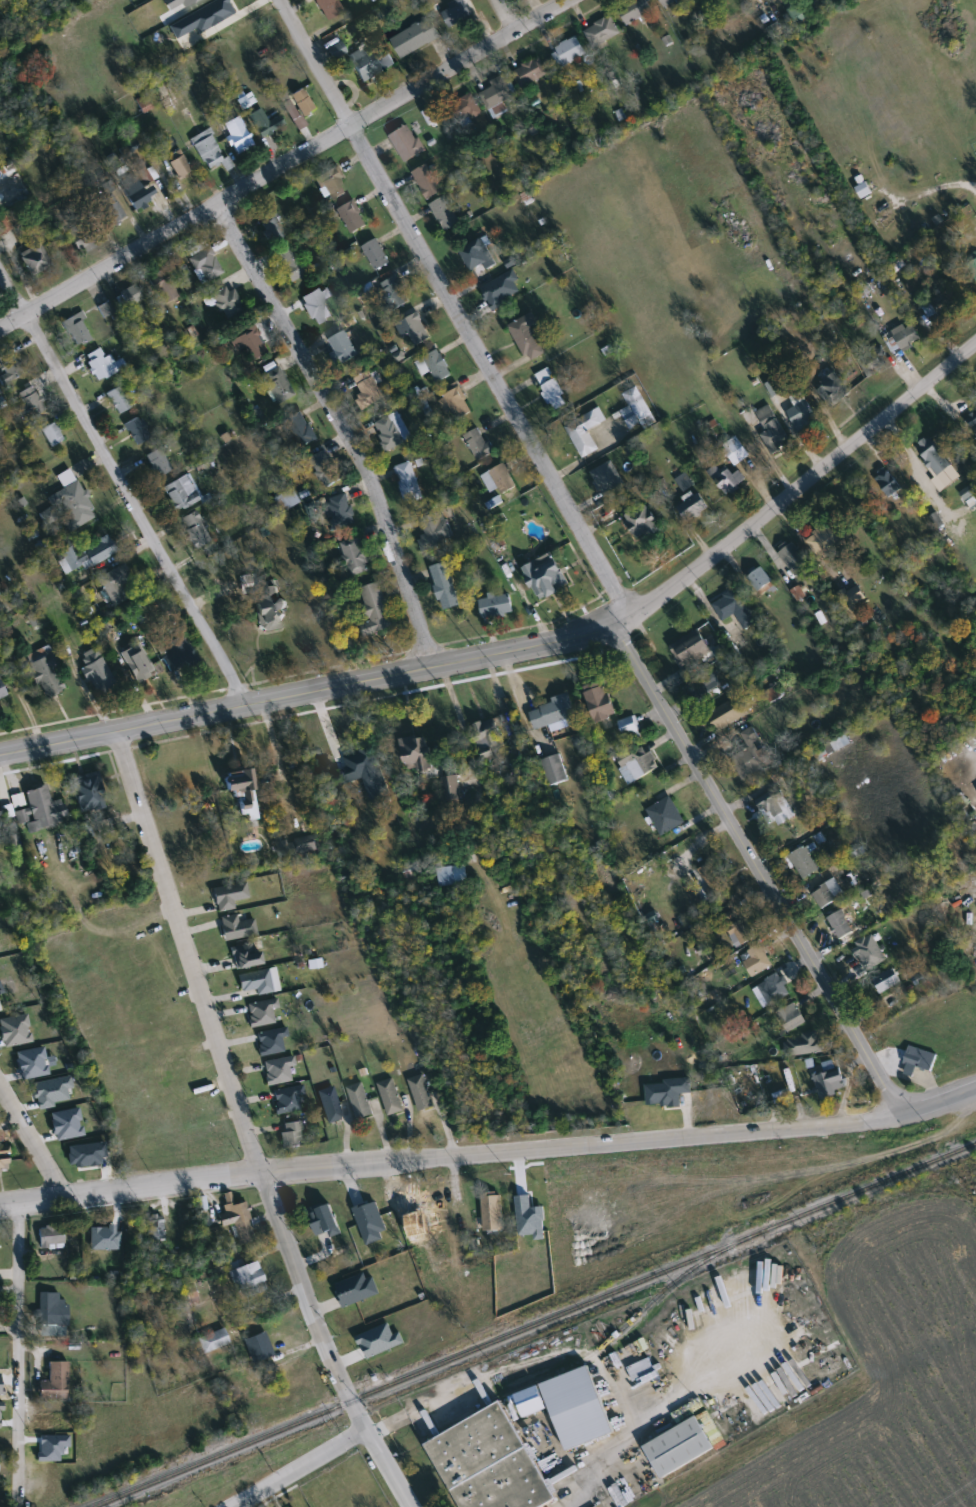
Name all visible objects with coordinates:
building: (681, 1)
building: (667, 2)
building: (329, 8)
building: (635, 10)
building: (460, 11)
road: (505, 15)
building: (602, 31)
building: (415, 37)
building: (569, 52)
building: (370, 62)
building: (529, 73)
building: (498, 91)
building: (302, 102)
building: (467, 109)
building: (265, 123)
building: (237, 135)
building: (407, 143)
building: (208, 149)
road: (284, 165)
building: (178, 168)
building: (427, 182)
building: (333, 184)
road: (938, 187)
building: (136, 191)
building: (112, 210)
building: (445, 213)
building: (353, 217)
building: (3, 224)
building: (272, 227)
building: (24, 232)
building: (83, 234)
building: (377, 255)
building: (478, 256)
building: (34, 257)
building: (205, 264)
building: (291, 264)
building: (973, 268)
building: (163, 286)
building: (393, 293)
building: (126, 299)
building: (227, 302)
building: (318, 305)
road: (454, 308)
building: (106, 309)
building: (78, 330)
building: (417, 330)
building: (527, 337)
building: (903, 338)
building: (248, 341)
building: (344, 348)
building: (874, 362)
building: (103, 365)
building: (435, 367)
building: (10, 371)
building: (277, 384)
building: (368, 390)
building: (552, 390)
building: (833, 391)
building: (119, 400)
building: (458, 404)
building: (32, 406)
building: (637, 410)
building: (802, 413)
building: (974, 425)
road: (347, 428)
building: (301, 429)
building: (772, 429)
building: (137, 431)
building: (393, 431)
building: (585, 433)
building: (52, 434)
building: (479, 444)
building: (735, 451)
building: (934, 456)
building: (158, 463)
building: (325, 468)
building: (726, 479)
building: (409, 480)
building: (608, 480)
building: (888, 482)
road: (801, 486)
road: (125, 490)
building: (182, 493)
building: (71, 501)
building: (342, 511)
building: (640, 515)
building: (195, 529)
building: (435, 529)
building: (826, 541)
building: (89, 554)
building: (356, 556)
building: (794, 558)
building: (547, 576)
building: (760, 579)
building: (115, 584)
building: (445, 586)
building: (497, 606)
building: (376, 609)
building: (736, 609)
building: (270, 610)
building: (692, 649)
building: (178, 654)
building: (136, 663)
building: (96, 670)
building: (46, 676)
building: (705, 683)
building: (2, 692)
road: (312, 697)
building: (600, 701)
building: (1, 711)
building: (555, 711)
building: (728, 714)
building: (630, 728)
building: (488, 738)
building: (420, 755)
building: (751, 755)
building: (638, 763)
building: (555, 769)
building: (372, 774)
building: (451, 788)
building: (243, 791)
building: (88, 792)
building: (777, 809)
building: (41, 810)
building: (666, 816)
building: (1, 827)
building: (804, 862)
road: (762, 867)
building: (446, 876)
building: (714, 879)
building: (828, 894)
building: (229, 896)
building: (842, 926)
building: (237, 927)
building: (247, 955)
building: (757, 960)
building: (887, 980)
building: (255, 983)
building: (772, 990)
building: (262, 1013)
building: (793, 1020)
building: (271, 1041)
building: (805, 1045)
building: (920, 1058)
building: (278, 1070)
building: (829, 1083)
road: (230, 1086)
building: (422, 1094)
building: (391, 1097)
building: (289, 1100)
building: (360, 1100)
road: (941, 1101)
building: (330, 1105)
building: (290, 1137)
road: (32, 1140)
road: (453, 1153)
building: (4, 1161)
building: (361, 1212)
building: (493, 1212)
building: (236, 1219)
building: (156, 1228)
building: (53, 1236)
building: (246, 1279)
building: (52, 1310)
railway: (531, 1324)
building: (213, 1340)
building: (258, 1348)
road: (18, 1349)
building: (55, 1382)
building: (568, 1406)
building: (680, 1448)
building: (491, 1463)
road: (388, 1467)
road: (299, 1468)
road: (586, 1498)

